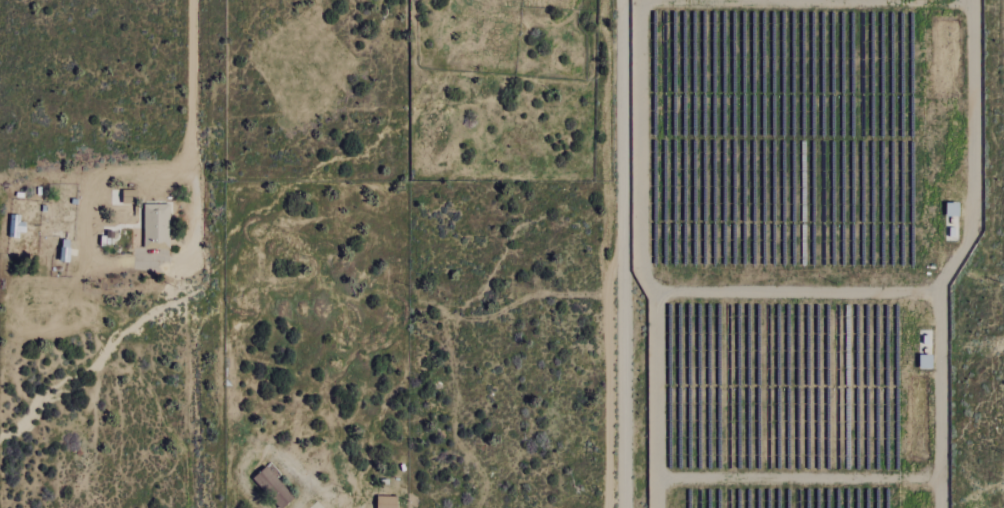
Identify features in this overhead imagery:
road: (196, 81)
building: (128, 197)
building: (952, 209)
building: (16, 225)
building: (156, 226)
building: (64, 250)
road: (605, 253)
building: (926, 361)
road: (288, 461)
building: (273, 486)

